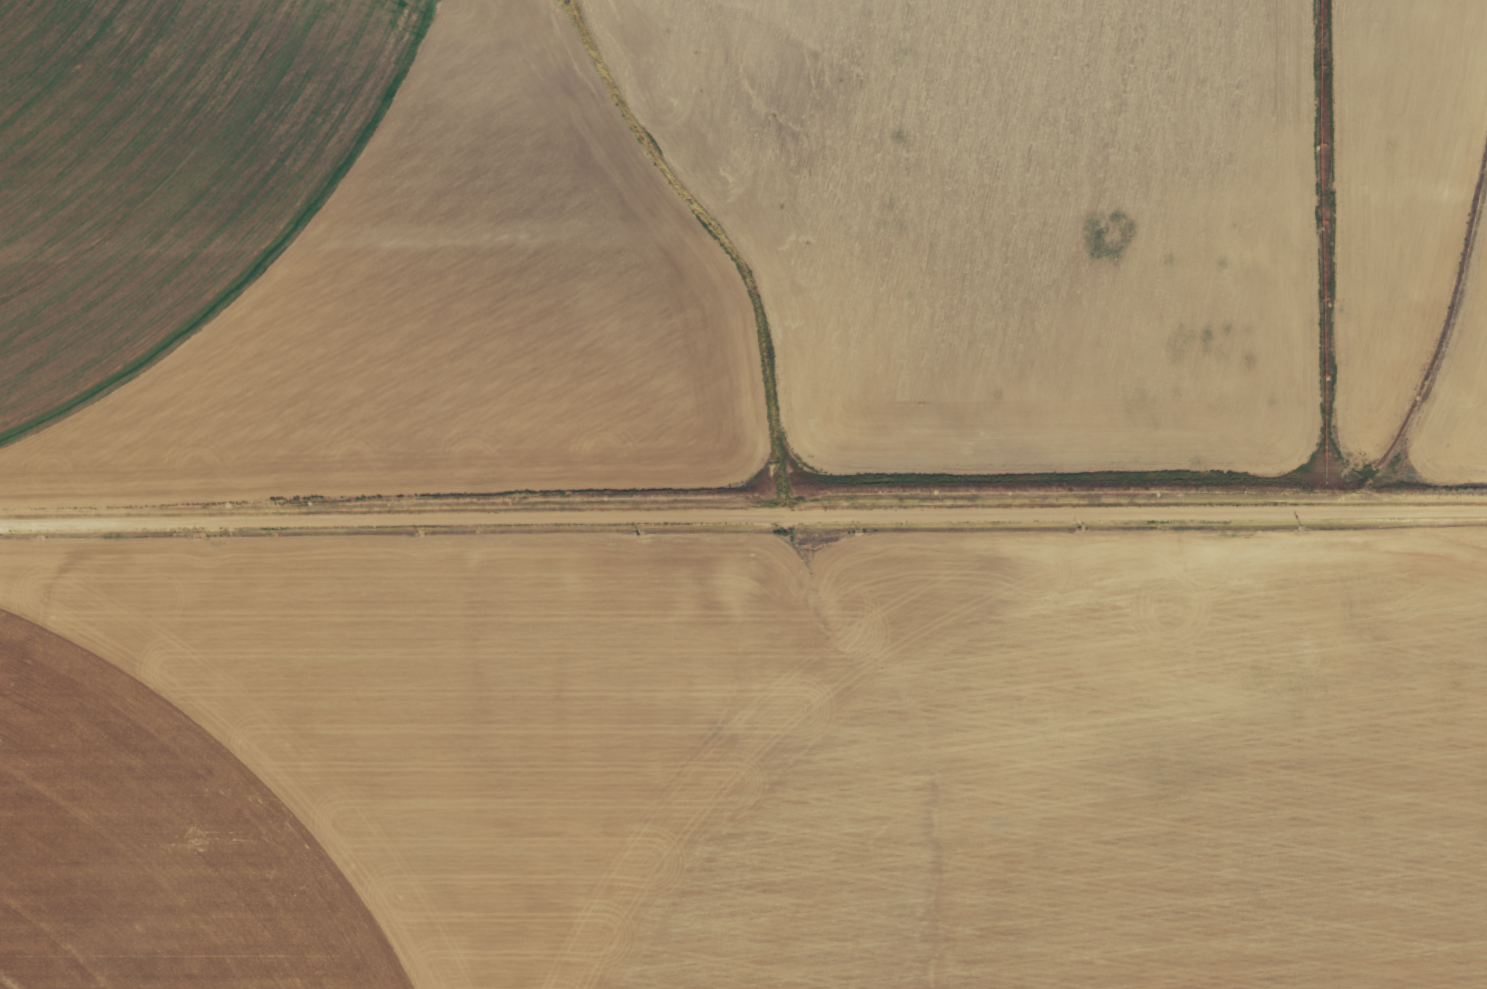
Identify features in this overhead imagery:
road: (743, 514)

